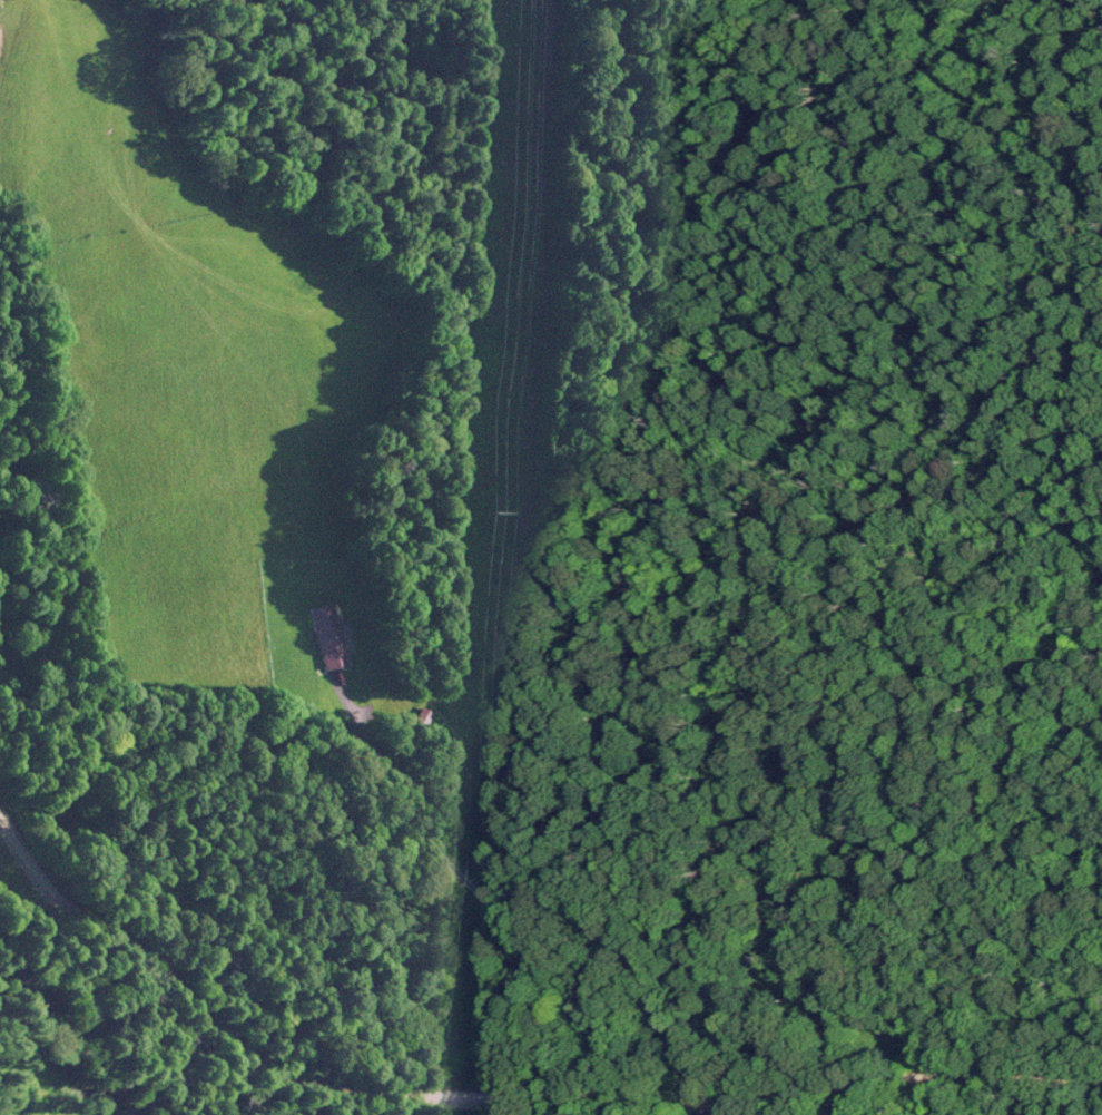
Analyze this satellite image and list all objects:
building: (326, 635)
road: (479, 1070)
road: (490, 1093)

